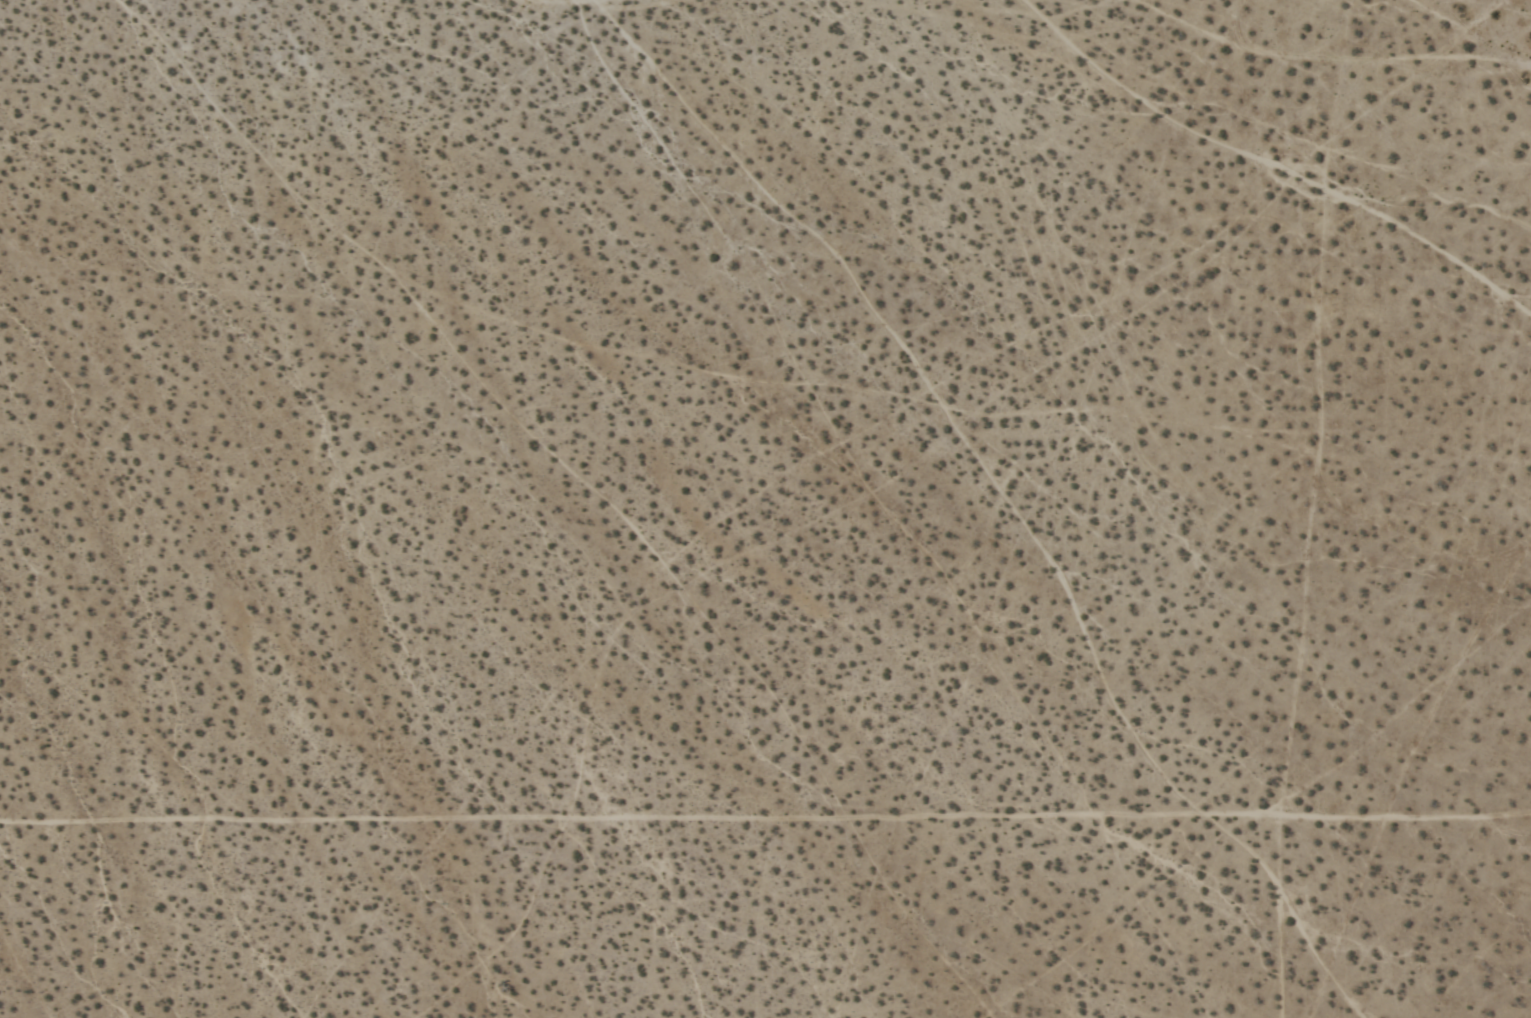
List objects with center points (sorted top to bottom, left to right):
crop: (765, 509)

